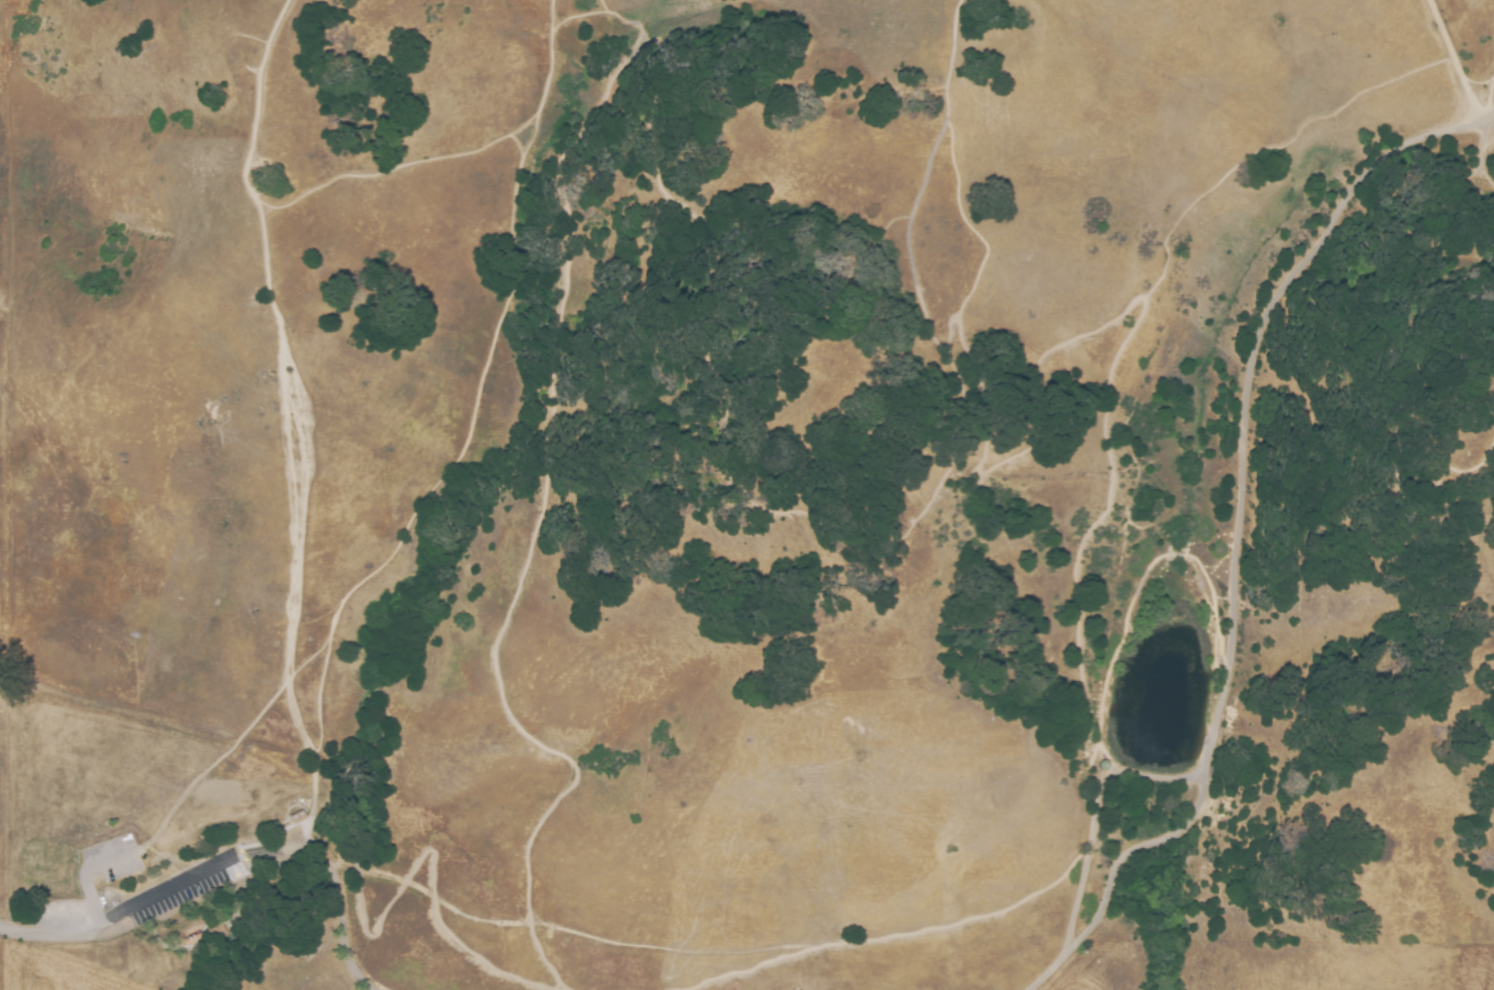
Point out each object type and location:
road: (595, 8)
road: (586, 18)
road: (626, 20)
road: (565, 25)
road: (490, 58)
road: (1459, 61)
road: (659, 79)
road: (1483, 86)
road: (1489, 116)
road: (1483, 143)
road: (393, 157)
road: (1488, 173)
road: (955, 183)
road: (1476, 223)
road: (810, 247)
road: (281, 301)
road: (1129, 335)
road: (1246, 390)
road: (464, 445)
road: (1025, 450)
road: (1484, 479)
park: (743, 487)
road: (1131, 598)
building: (1104, 766)
road: (200, 773)
building: (297, 816)
road: (1147, 845)
road: (419, 861)
road: (90, 871)
parking lot: (116, 881)
road: (1077, 898)
road: (159, 908)
road: (985, 918)
road: (342, 922)
building: (215, 933)
road: (1059, 958)

